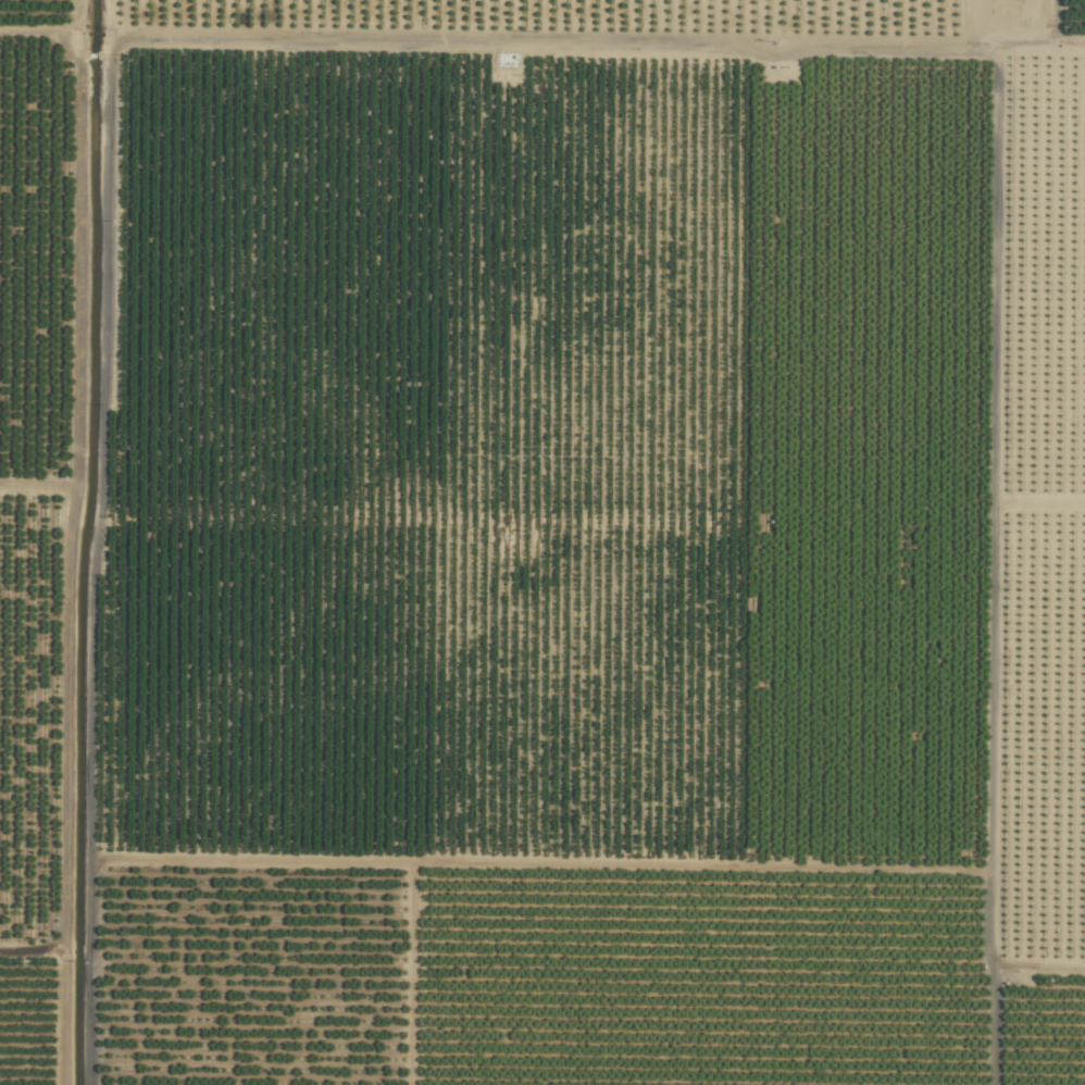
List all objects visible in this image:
road: (989, 58)

